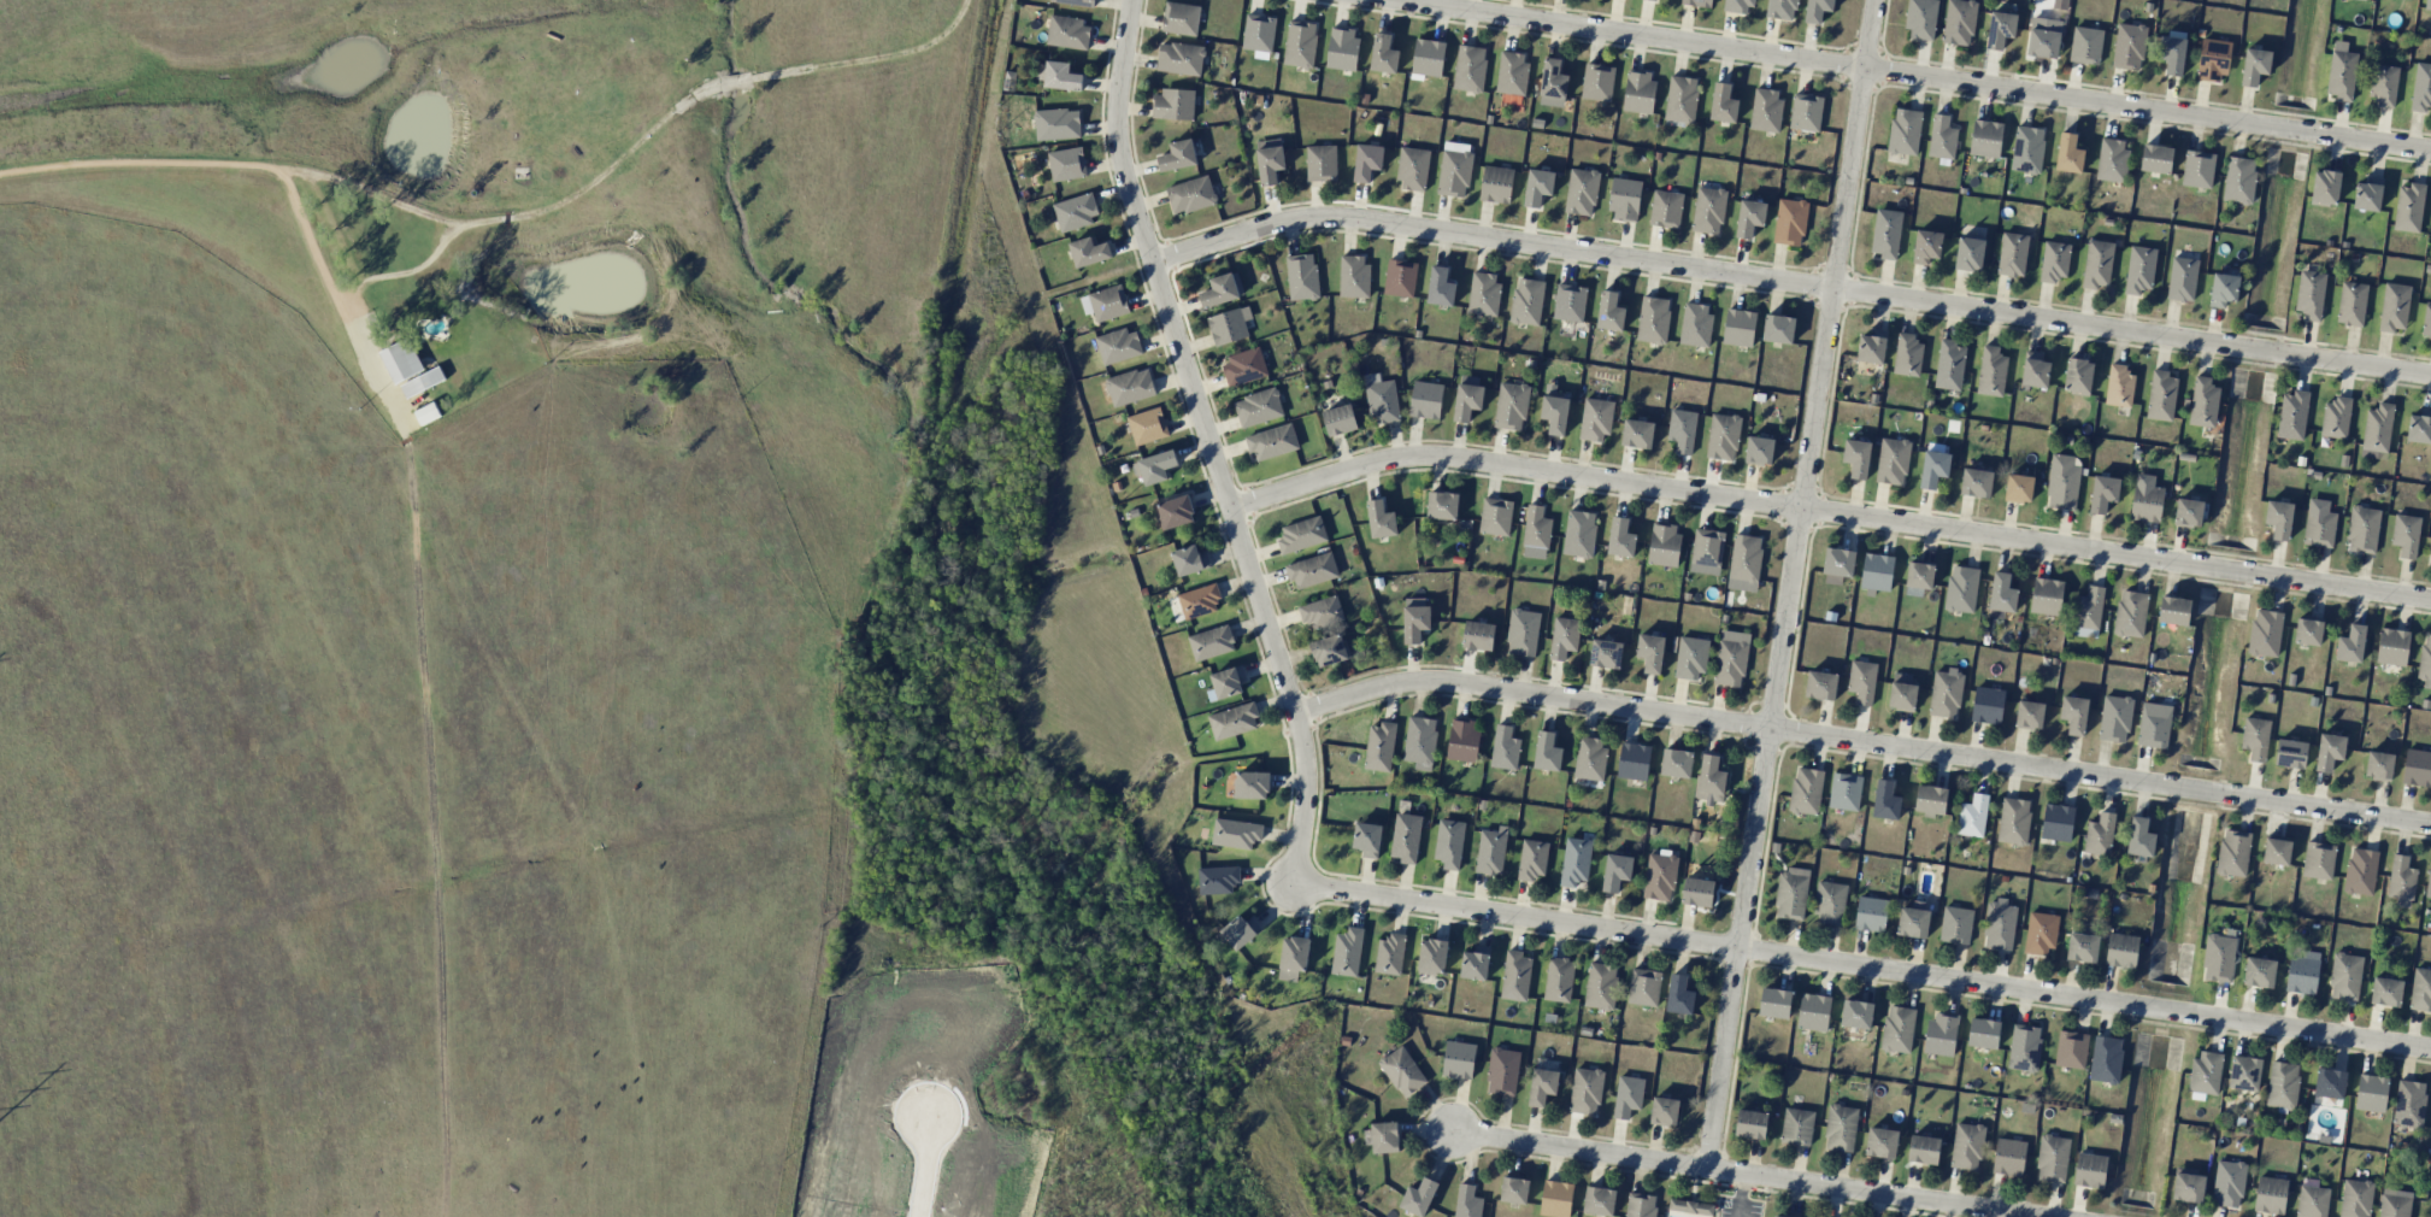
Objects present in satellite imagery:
building: (1654, 0)
building: (1076, 1)
building: (1697, 2)
building: (1737, 5)
building: (2427, 5)
building: (1782, 8)
building: (1817, 10)
building: (1181, 18)
building: (1921, 19)
building: (1959, 22)
building: (2000, 29)
building: (1067, 31)
building: (1258, 35)
building: (2043, 36)
building: (1300, 43)
building: (2085, 45)
building: (2129, 46)
building: (1342, 48)
building: (1383, 54)
building: (2172, 54)
building: (1428, 57)
building: (1179, 58)
building: (2212, 60)
building: (2254, 66)
building: (1468, 67)
building: (2341, 71)
building: (1512, 74)
building: (1058, 76)
road: (1905, 76)
building: (1553, 80)
building: (1597, 82)
building: (2383, 84)
building: (2421, 88)
building: (1638, 92)
building: (1680, 99)
building: (1172, 104)
building: (1723, 104)
building: (1766, 110)
building: (1806, 112)
building: (1056, 124)
building: (1905, 131)
building: (1942, 137)
building: (1985, 137)
building: (1456, 146)
building: (2027, 148)
building: (2068, 153)
building: (1178, 155)
building: (2156, 158)
building: (1269, 159)
building: (2112, 159)
building: (1367, 161)
building: (1320, 163)
building: (1066, 164)
building: (1412, 169)
building: (2197, 169)
building: (1454, 174)
building: (2238, 180)
building: (1496, 184)
building: (1537, 187)
building: (2324, 188)
building: (1582, 192)
building: (1191, 194)
building: (2367, 194)
building: (1624, 199)
building: (2408, 207)
building: (1665, 208)
building: (1708, 210)
building: (1076, 211)
road: (507, 212)
building: (1749, 217)
building: (1790, 222)
building: (1885, 233)
building: (1926, 246)
building: (1089, 252)
building: (1970, 253)
building: (2012, 254)
building: (2054, 261)
building: (2097, 263)
building: (2139, 269)
building: (1301, 276)
building: (1353, 276)
road: (326, 277)
building: (1400, 277)
building: (2182, 278)
road: (1789, 284)
building: (1440, 287)
building: (1222, 289)
building: (2223, 289)
building: (1483, 293)
building: (2309, 294)
building: (1526, 301)
building: (1105, 302)
building: (1568, 302)
building: (2351, 302)
building: (2394, 307)
building: (1609, 312)
building: (1653, 319)
building: (2426, 322)
building: (1696, 324)
building: (1229, 325)
building: (1738, 327)
building: (1778, 328)
building: (1118, 345)
building: (1872, 346)
building: (1907, 355)
building: (400, 360)
building: (1949, 365)
building: (1243, 366)
building: (2035, 370)
building: (1991, 371)
building: (2078, 376)
building: (423, 382)
building: (2119, 386)
building: (1130, 387)
building: (2161, 395)
building: (1467, 398)
building: (1425, 399)
building: (1382, 401)
building: (2203, 402)
building: (1511, 406)
building: (1258, 407)
building: (426, 412)
building: (1554, 413)
building: (2292, 415)
building: (2336, 417)
building: (1340, 419)
building: (1595, 419)
building: (1147, 425)
building: (2419, 427)
building: (1682, 429)
building: (2377, 431)
building: (1637, 433)
building: (1723, 436)
building: (1271, 441)
road: (1208, 446)
building: (1759, 451)
building: (1856, 458)
building: (1893, 461)
building: (1154, 466)
building: (1933, 469)
building: (1976, 482)
building: (2062, 482)
building: (2018, 488)
building: (2103, 493)
building: (2145, 499)
building: (1442, 505)
building: (1176, 511)
building: (2188, 512)
road: (1827, 513)
building: (1495, 516)
building: (2278, 518)
building: (1381, 519)
building: (2319, 523)
building: (1536, 528)
building: (2362, 529)
building: (1579, 533)
building: (1301, 534)
building: (2406, 535)
building: (1620, 537)
building: (1664, 543)
building: (1707, 547)
building: (2430, 558)
building: (1189, 560)
building: (1838, 562)
building: (1744, 563)
building: (1312, 570)
building: (1877, 574)
building: (1919, 575)
road: (1791, 584)
building: (1961, 588)
building: (2002, 593)
building: (2046, 595)
building: (1199, 600)
building: (2173, 610)
building: (1320, 611)
building: (2088, 613)
building: (2130, 613)
building: (1414, 618)
building: (2308, 630)
building: (1523, 631)
building: (2265, 631)
building: (1478, 635)
building: (1564, 637)
building: (1211, 642)
building: (2350, 643)
building: (2391, 646)
building: (1329, 649)
building: (1650, 652)
building: (1606, 653)
building: (1690, 658)
building: (1731, 658)
building: (2425, 658)
building: (1228, 681)
building: (1861, 681)
building: (1820, 684)
building: (1902, 692)
building: (1946, 693)
building: (1988, 705)
building: (2073, 713)
building: (2029, 715)
building: (2114, 718)
building: (1232, 721)
building: (2153, 729)
building: (2255, 737)
building: (1462, 739)
building: (1419, 741)
road: (1862, 743)
building: (1379, 746)
building: (1505, 748)
building: (1547, 751)
building: (2329, 751)
building: (2290, 753)
building: (1590, 759)
building: (1634, 760)
building: (1676, 763)
building: (2378, 765)
building: (2417, 768)
building: (1711, 780)
building: (1252, 784)
building: (1806, 790)
building: (1844, 790)
building: (1885, 800)
building: (1931, 800)
building: (1972, 816)
building: (2013, 821)
building: (2056, 822)
building: (1235, 833)
building: (2100, 834)
building: (1406, 837)
building: (2139, 837)
building: (1367, 839)
building: (1449, 842)
building: (1491, 851)
building: (2276, 851)
building: (2233, 852)
building: (1532, 859)
building: (2318, 859)
building: (1574, 860)
building: (1615, 871)
building: (2360, 871)
building: (1659, 876)
building: (1217, 880)
building: (2401, 881)
building: (2429, 881)
building: (1697, 892)
building: (1791, 893)
building: (1830, 903)
building: (1871, 913)
building: (1913, 921)
building: (1955, 924)
building: (1999, 924)
building: (1238, 931)
building: (2041, 934)
building: (2082, 947)
building: (2121, 950)
building: (1347, 952)
building: (1390, 953)
building: (1431, 956)
building: (1293, 957)
building: (2218, 957)
building: (1475, 963)
road: (1861, 971)
building: (2302, 971)
building: (2259, 972)
building: (1515, 976)
building: (2345, 976)
building: (1559, 978)
building: (1600, 986)
building: (1644, 987)
building: (2420, 989)
building: (2385, 992)
building: (1679, 995)
building: (1774, 1003)
building: (1813, 1011)
building: (1855, 1018)
building: (1897, 1029)
building: (1941, 1033)
building: (1983, 1034)
building: (2024, 1047)
building: (2071, 1050)
building: (1459, 1059)
building: (2106, 1059)
building: (1402, 1071)
building: (1502, 1071)
building: (2206, 1071)
building: (2244, 1072)
building: (2282, 1084)
building: (1542, 1086)
building: (2329, 1087)
building: (1585, 1090)
building: (2371, 1093)
building: (1627, 1095)
building: (2409, 1103)
building: (1664, 1111)
building: (1750, 1124)
building: (1796, 1127)
building: (1841, 1128)
building: (1384, 1136)
building: (1882, 1142)
building: (1966, 1146)
building: (1924, 1150)
building: (2008, 1154)
building: (2053, 1158)
road: (924, 1166)
building: (2090, 1170)
road: (1740, 1175)
building: (2227, 1183)
building: (2188, 1184)
building: (1514, 1189)
building: (2270, 1194)
building: (1418, 1197)
building: (2355, 1198)
building: (1556, 1199)
building: (1599, 1200)
building: (1467, 1201)
building: (2312, 1201)
building: (2395, 1203)
building: (1640, 1205)
building: (1690, 1206)
building: (1778, 1216)

